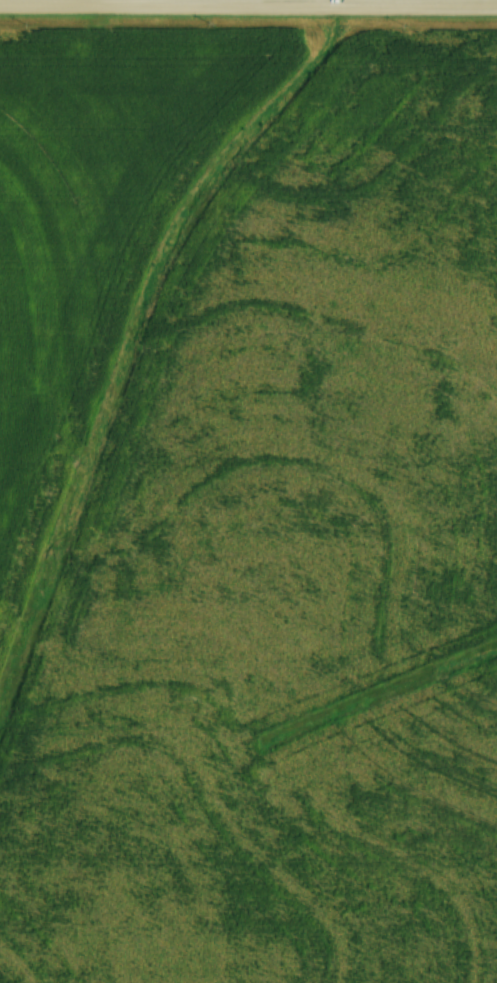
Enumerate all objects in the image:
road: (20, 2)
road: (147, 2)
road: (248, 4)

